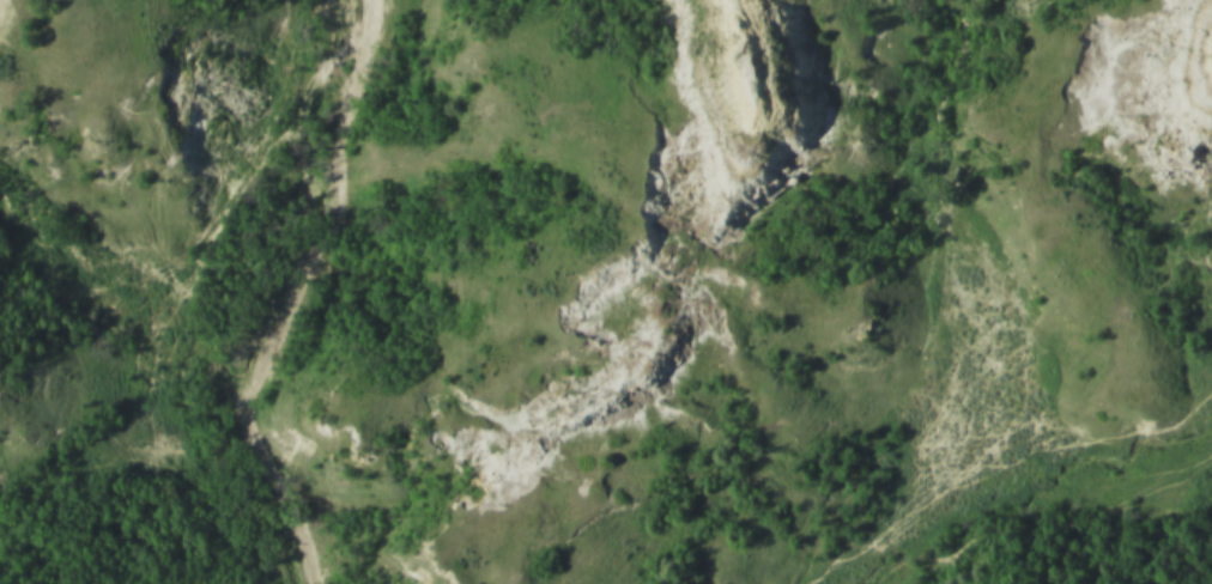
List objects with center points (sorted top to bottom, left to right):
road: (201, 284)

